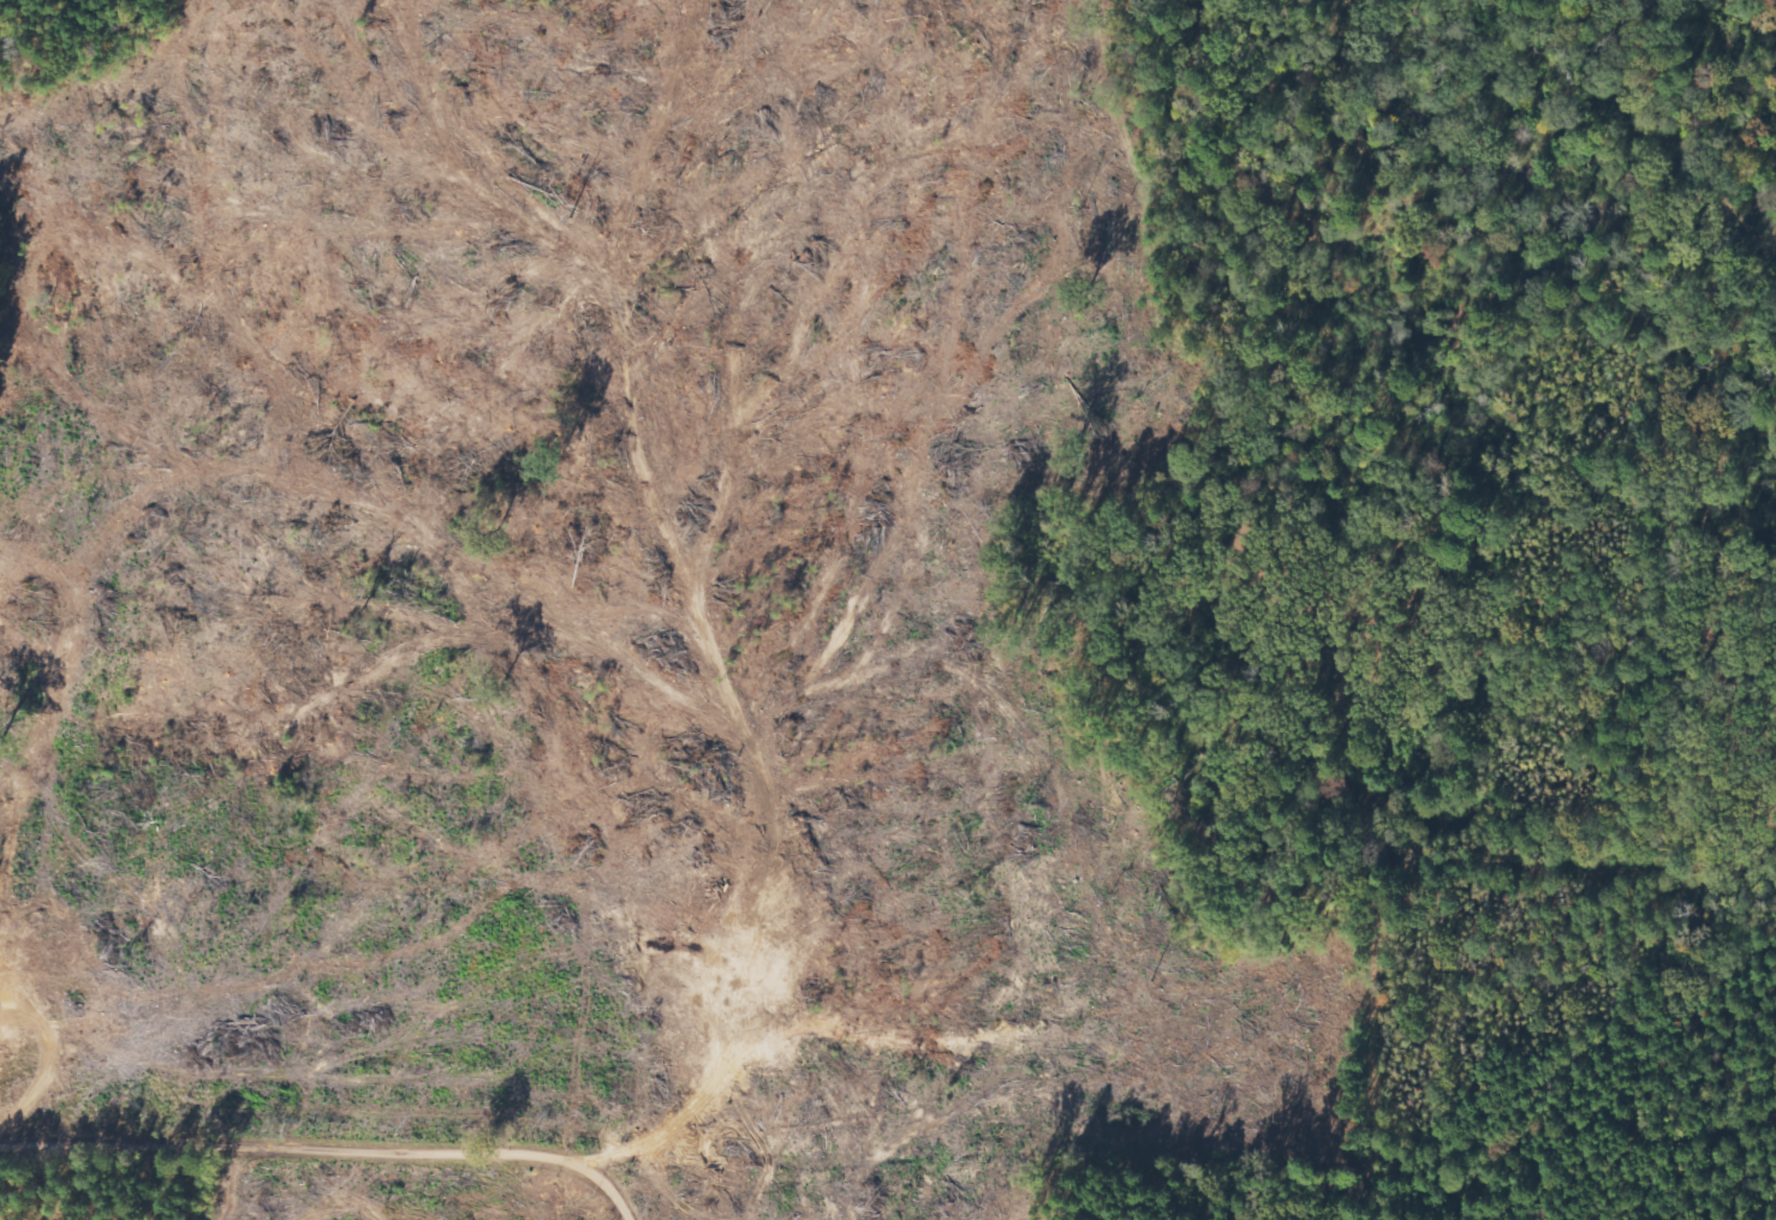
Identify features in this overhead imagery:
road: (1691, 80)
road: (1662, 528)
road: (320, 1153)

